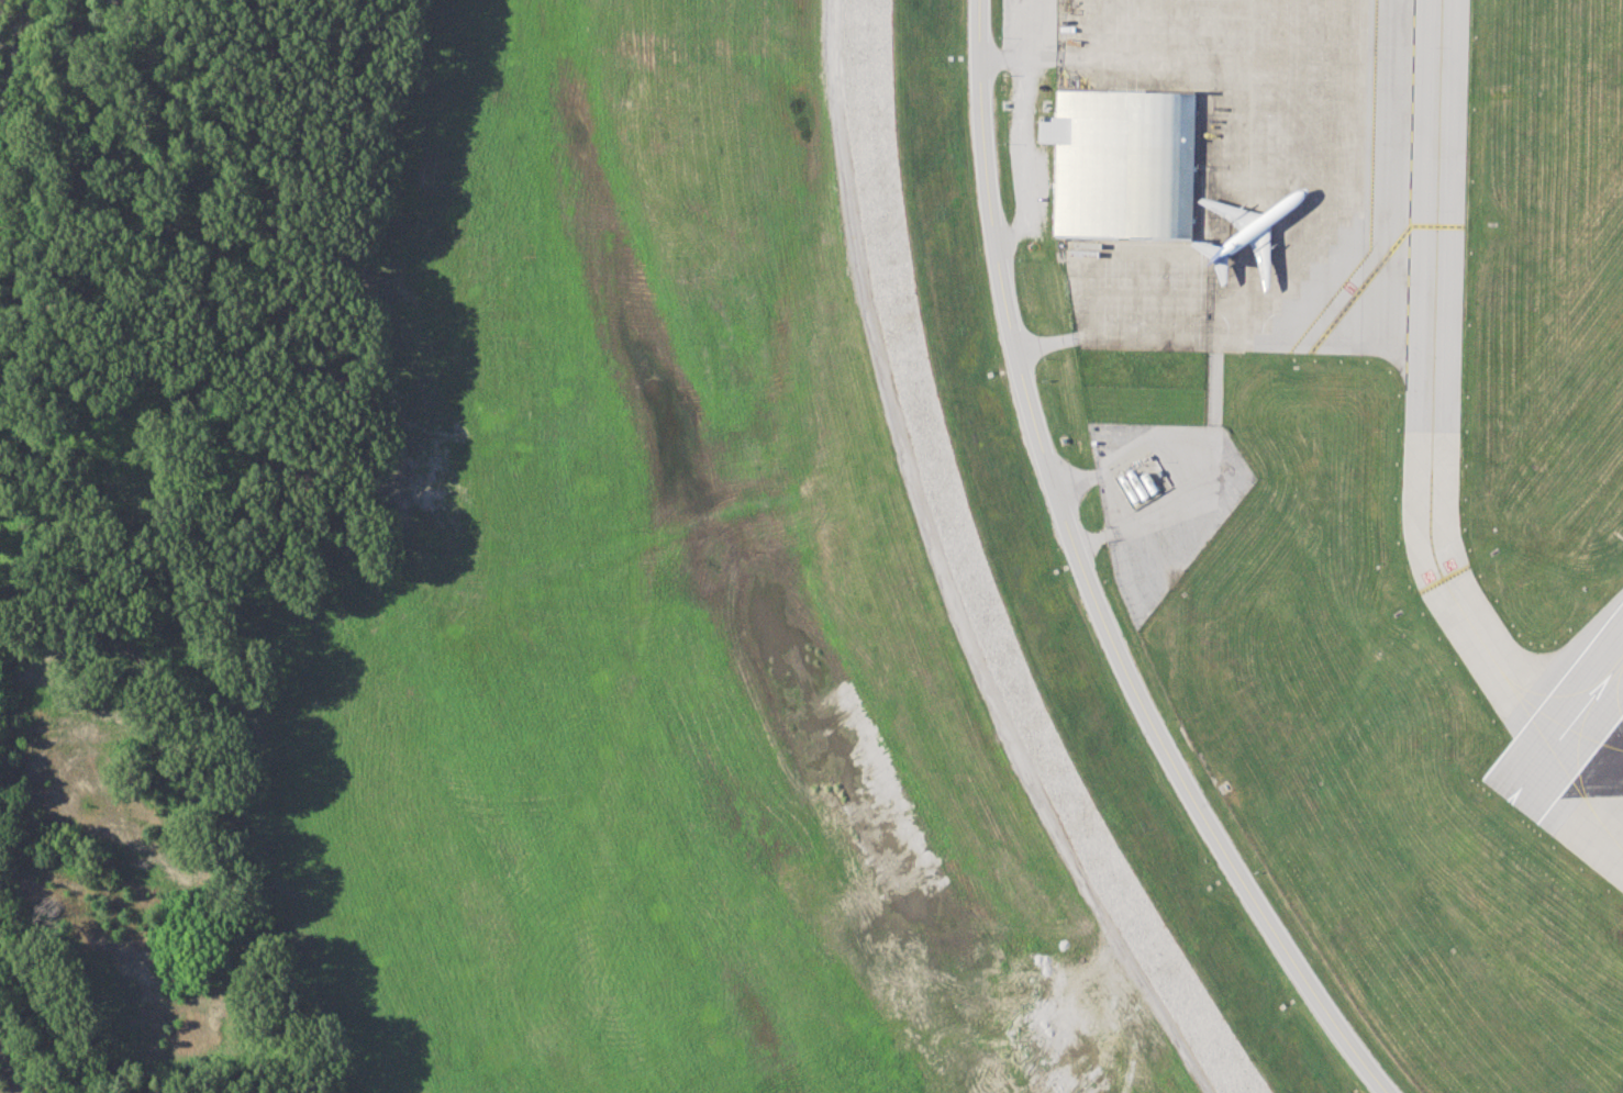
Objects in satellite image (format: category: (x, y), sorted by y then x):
airport apron: (1279, 155)
building: (1122, 164)
parking lot: (1134, 295)
airport taxiway: (1432, 391)
road: (1131, 454)
airport: (1364, 465)
storage tank: (1148, 481)
storage tank: (1135, 482)
storage tank: (1126, 488)
road: (1207, 492)
road: (941, 572)
road: (1090, 580)
airport runway: (1566, 728)
airport taxiway: (1587, 751)
airport taxiway: (1574, 819)

